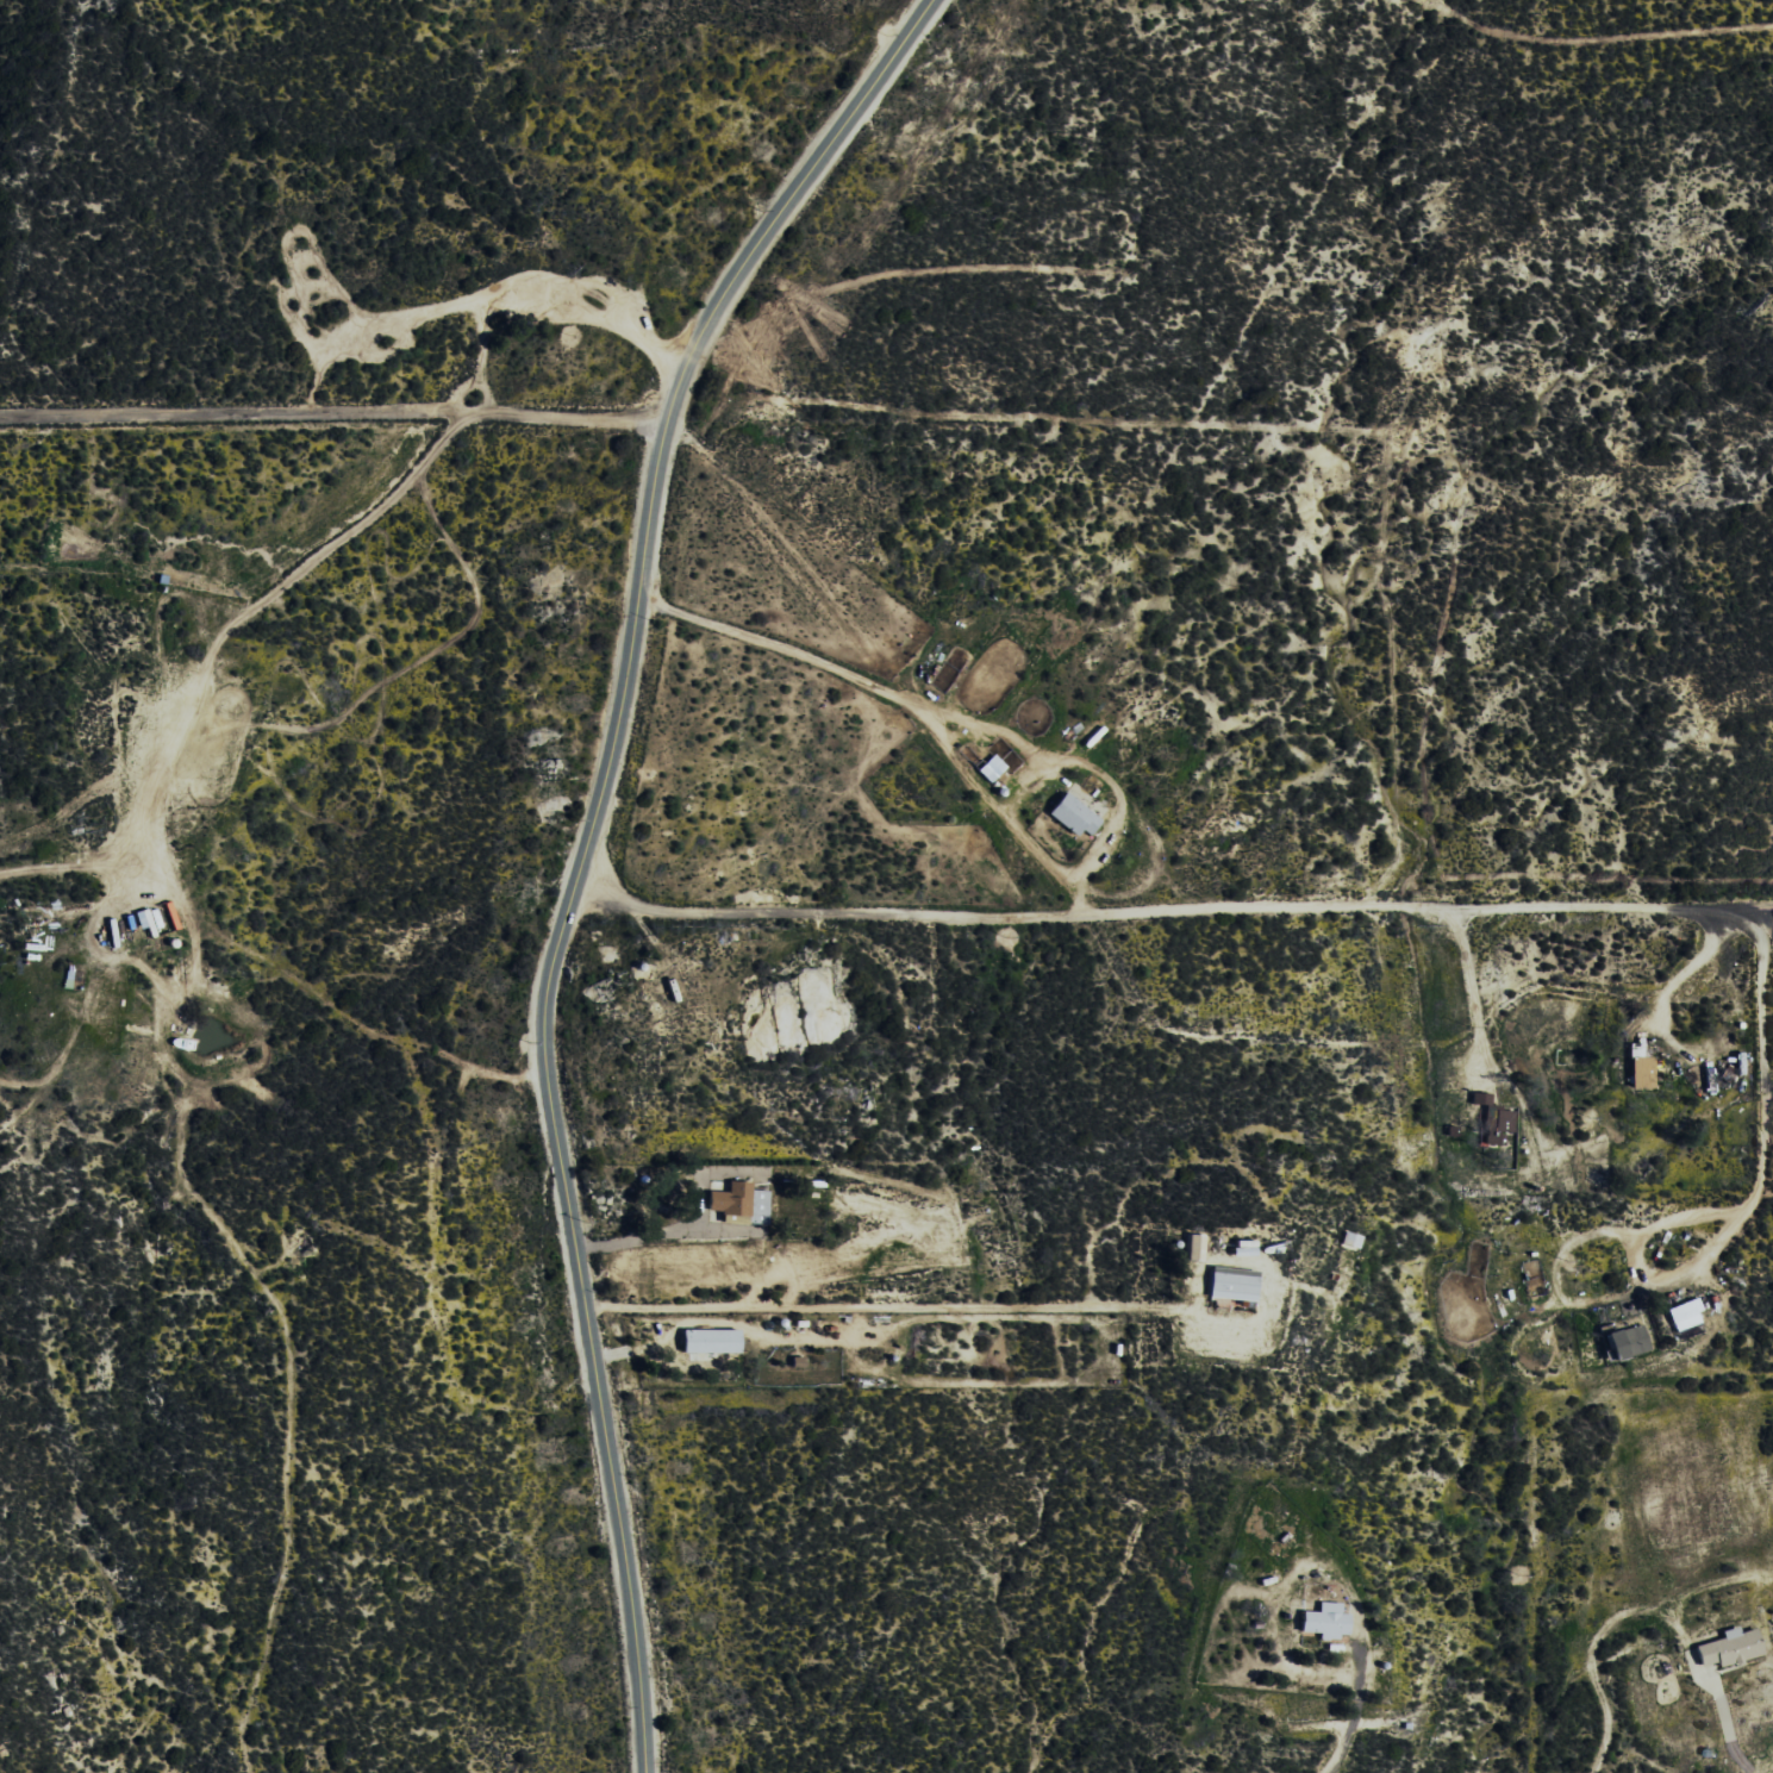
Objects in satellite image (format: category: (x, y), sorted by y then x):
road: (331, 431)
road: (799, 561)
road: (781, 647)
road: (1011, 736)
building: (991, 768)
building: (1072, 816)
road: (582, 848)
road: (1169, 914)
building: (1640, 1067)
building: (738, 1201)
building: (1194, 1248)
building: (1231, 1285)
building: (1684, 1315)
building: (708, 1342)
building: (1625, 1342)
building: (1325, 1621)
building: (1729, 1648)
road: (1109, 1708)

